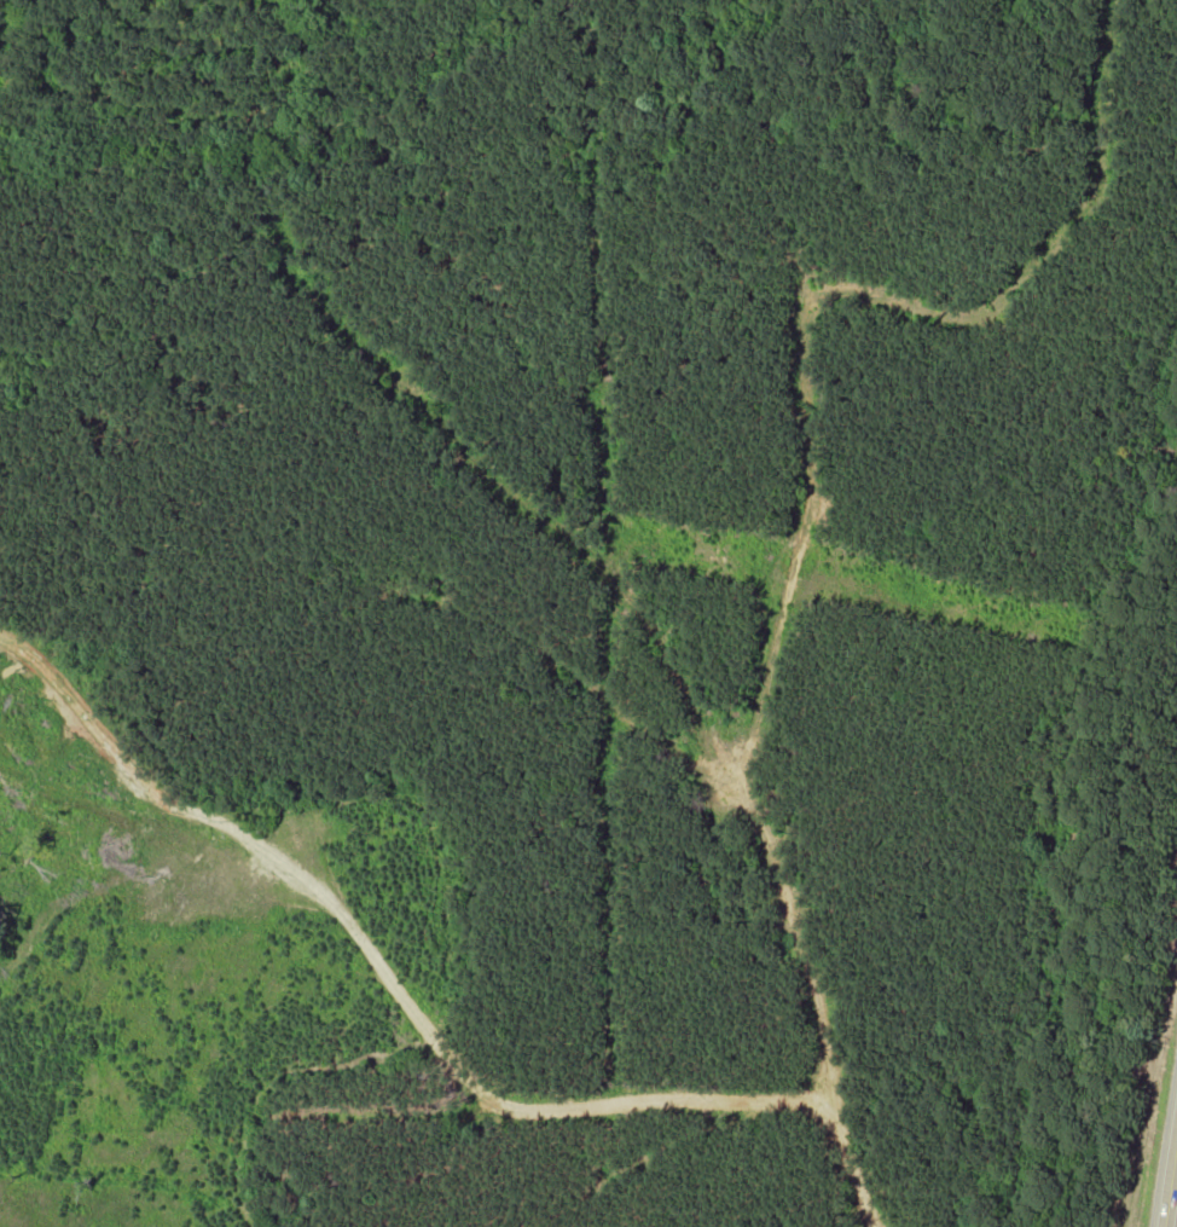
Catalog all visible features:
road: (1170, 1182)

